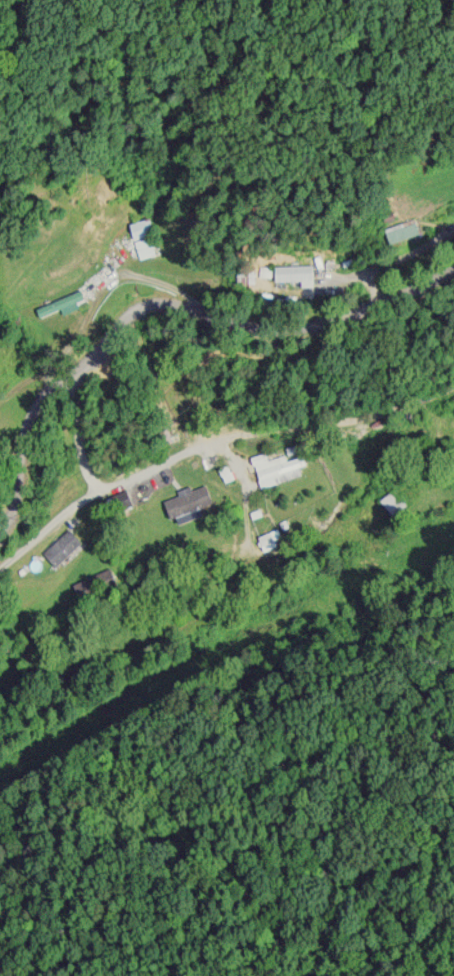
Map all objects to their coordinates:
building: (400, 229)
building: (142, 235)
building: (292, 274)
road: (161, 301)
building: (59, 302)
road: (71, 438)
road: (211, 445)
building: (276, 465)
building: (187, 499)
building: (394, 500)
building: (269, 537)
building: (60, 545)

